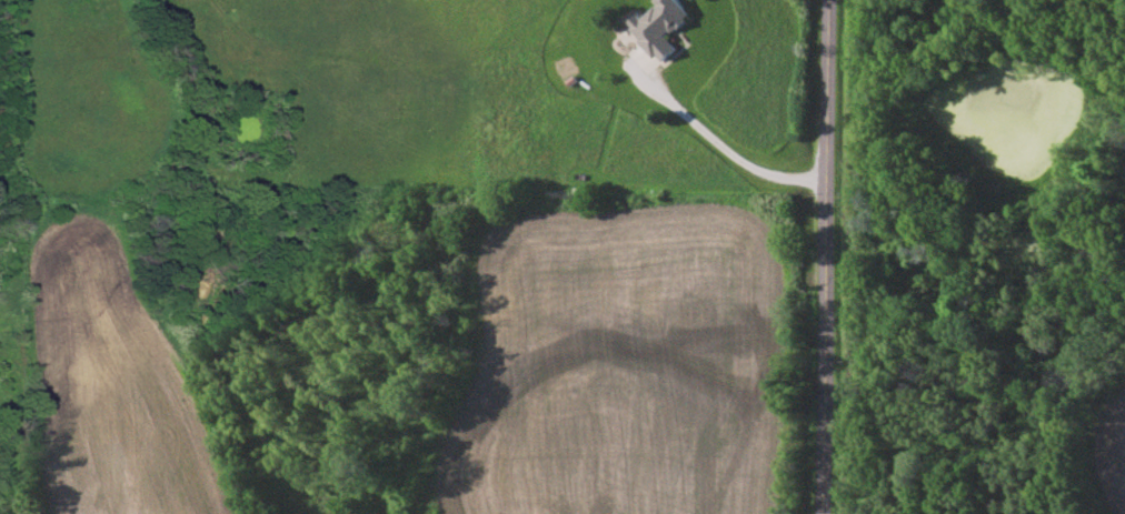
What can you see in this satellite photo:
building: (660, 26)
road: (720, 144)
road: (825, 256)

